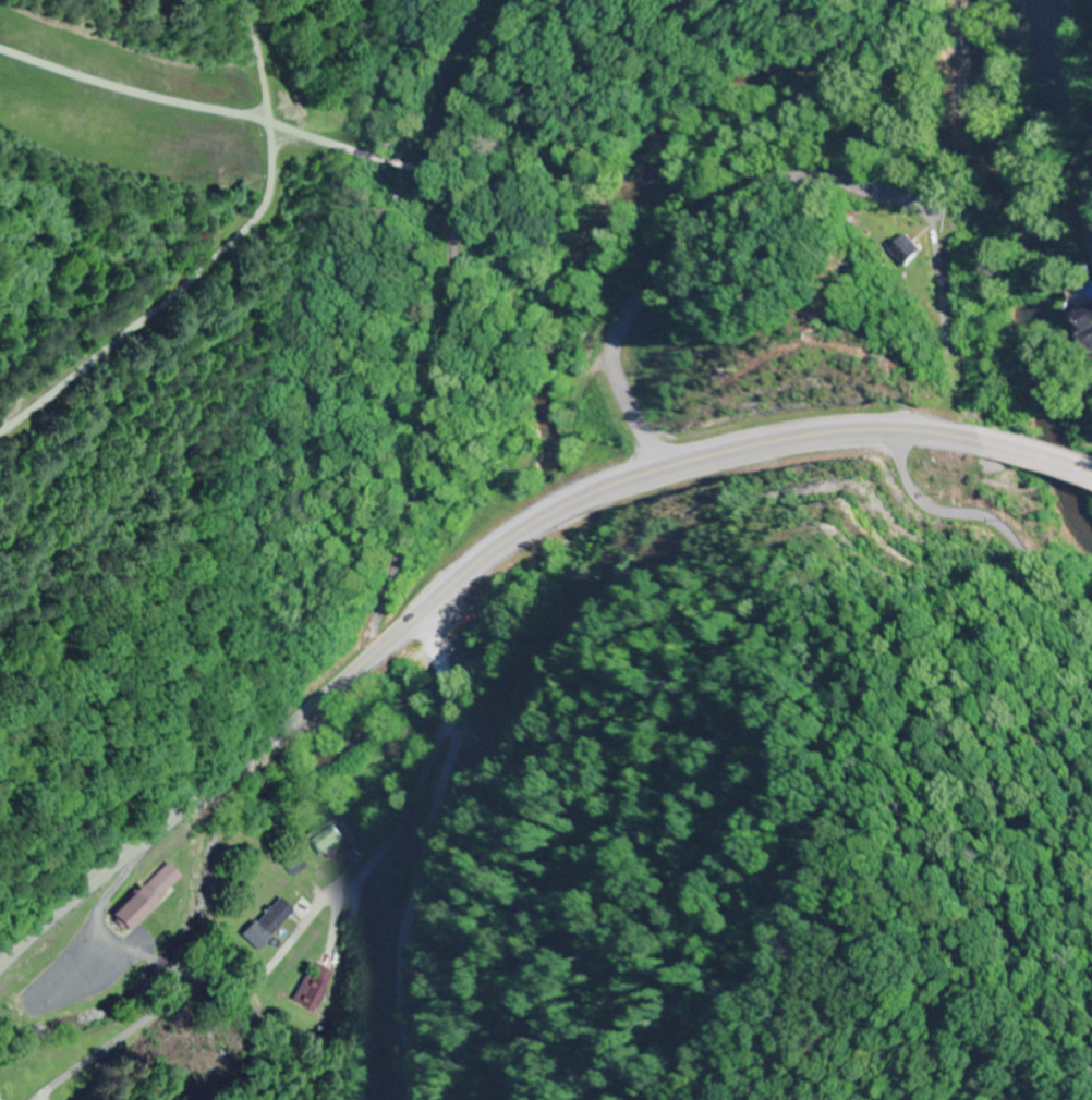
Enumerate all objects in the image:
park: (373, 121)
road: (745, 192)
road: (936, 279)
road: (1091, 280)
building: (1083, 317)
road: (621, 387)
road: (1030, 445)
road: (418, 474)
road: (992, 506)
road: (432, 583)
road: (440, 679)
building: (330, 840)
building: (299, 863)
building: (153, 896)
building: (279, 918)
road: (280, 934)
building: (319, 987)
road: (56, 990)

